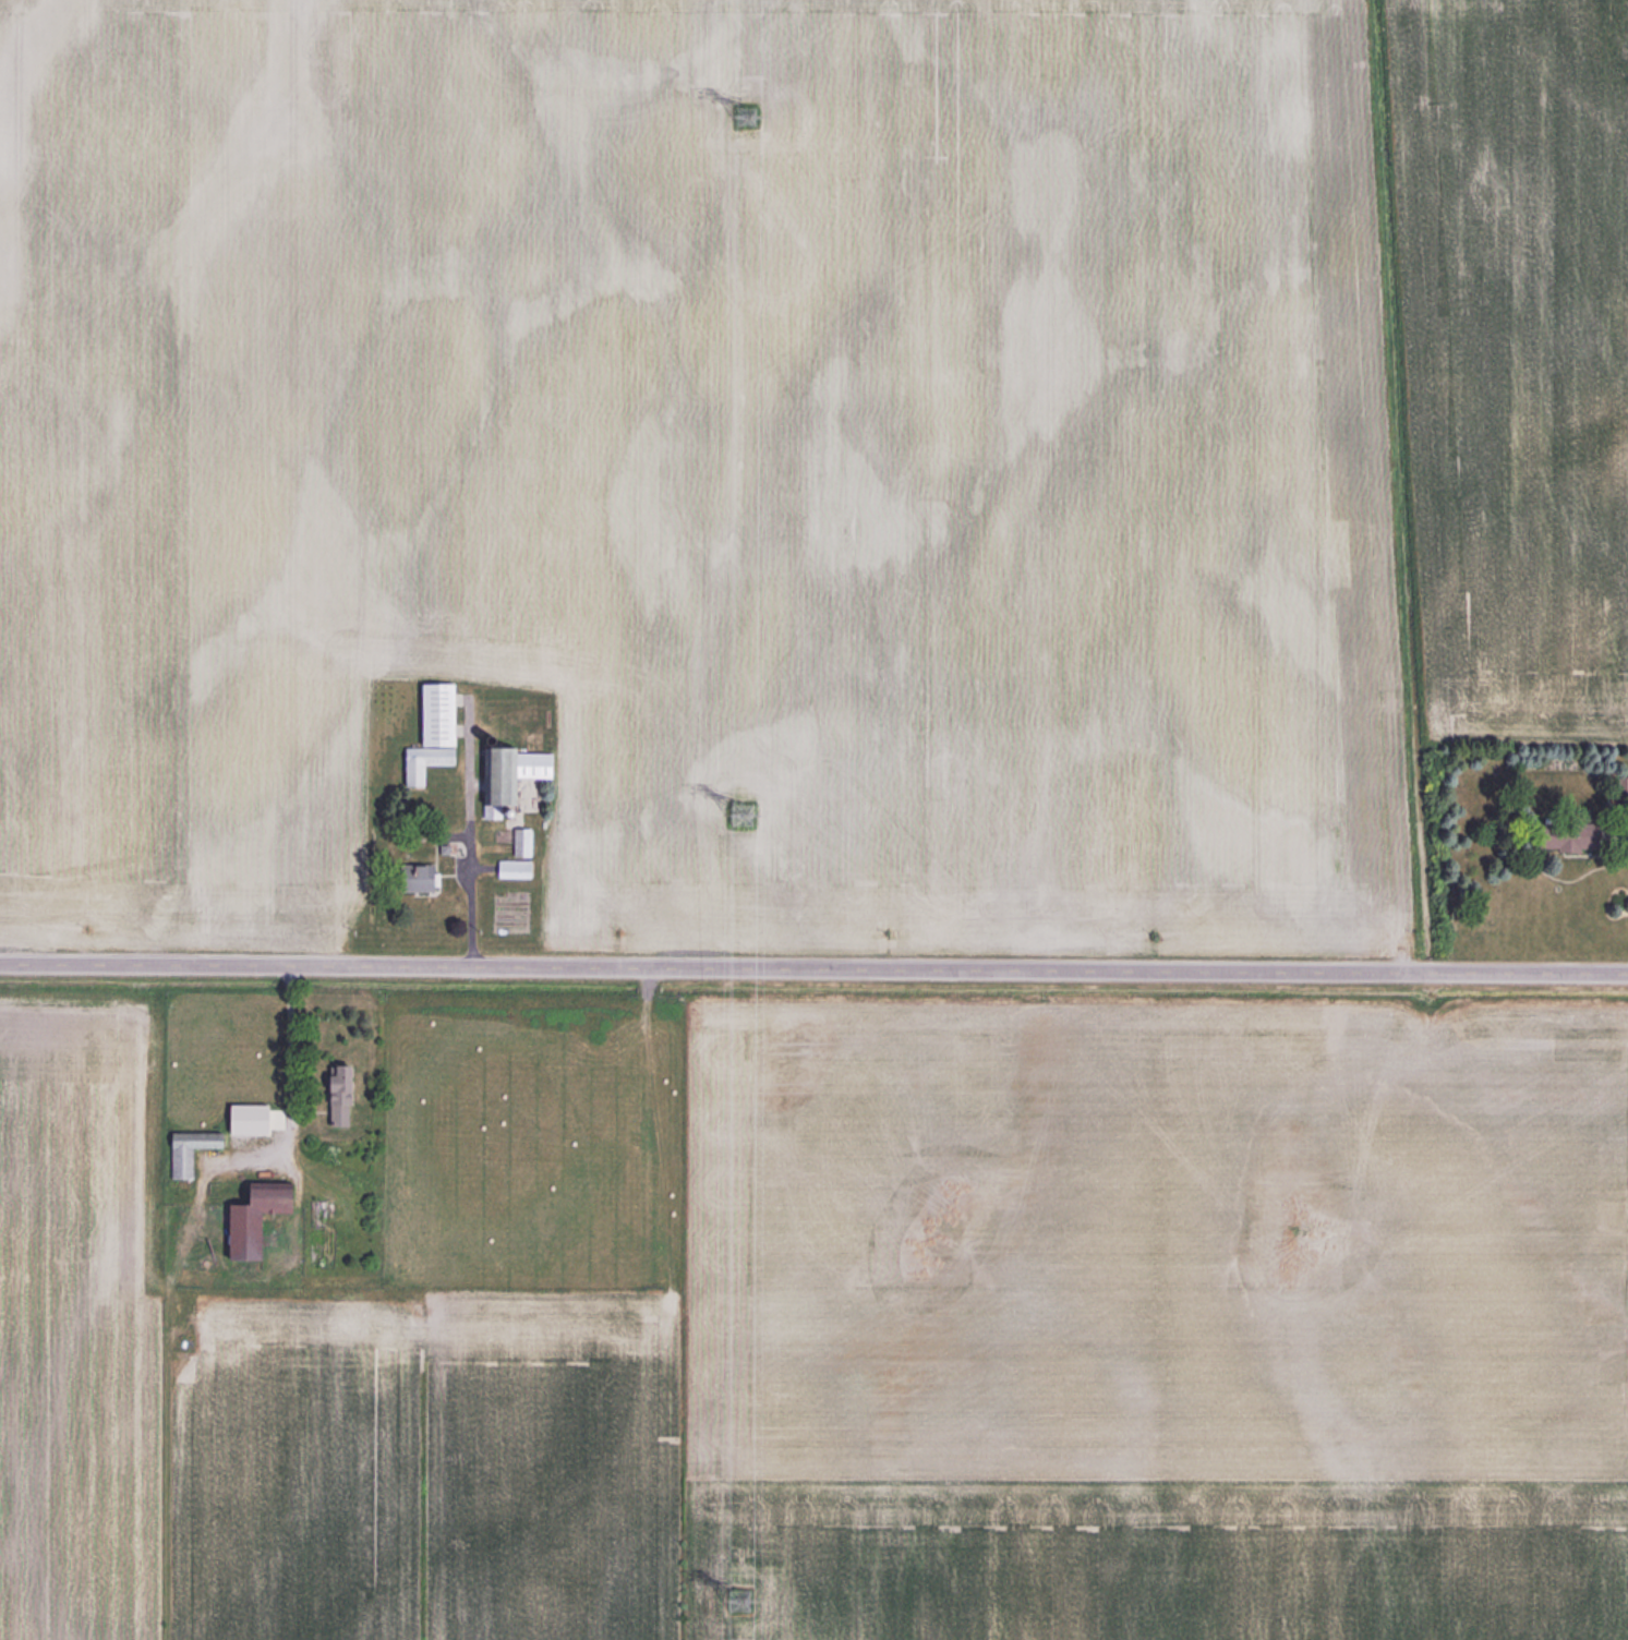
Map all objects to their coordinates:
power tower: (743, 116)
building: (430, 732)
building: (506, 771)
power tower: (736, 817)
building: (1559, 835)
building: (520, 842)
building: (410, 877)
road: (469, 901)
road: (813, 969)
building: (333, 1095)
building: (179, 1154)
building: (246, 1217)
power tower: (737, 1597)

